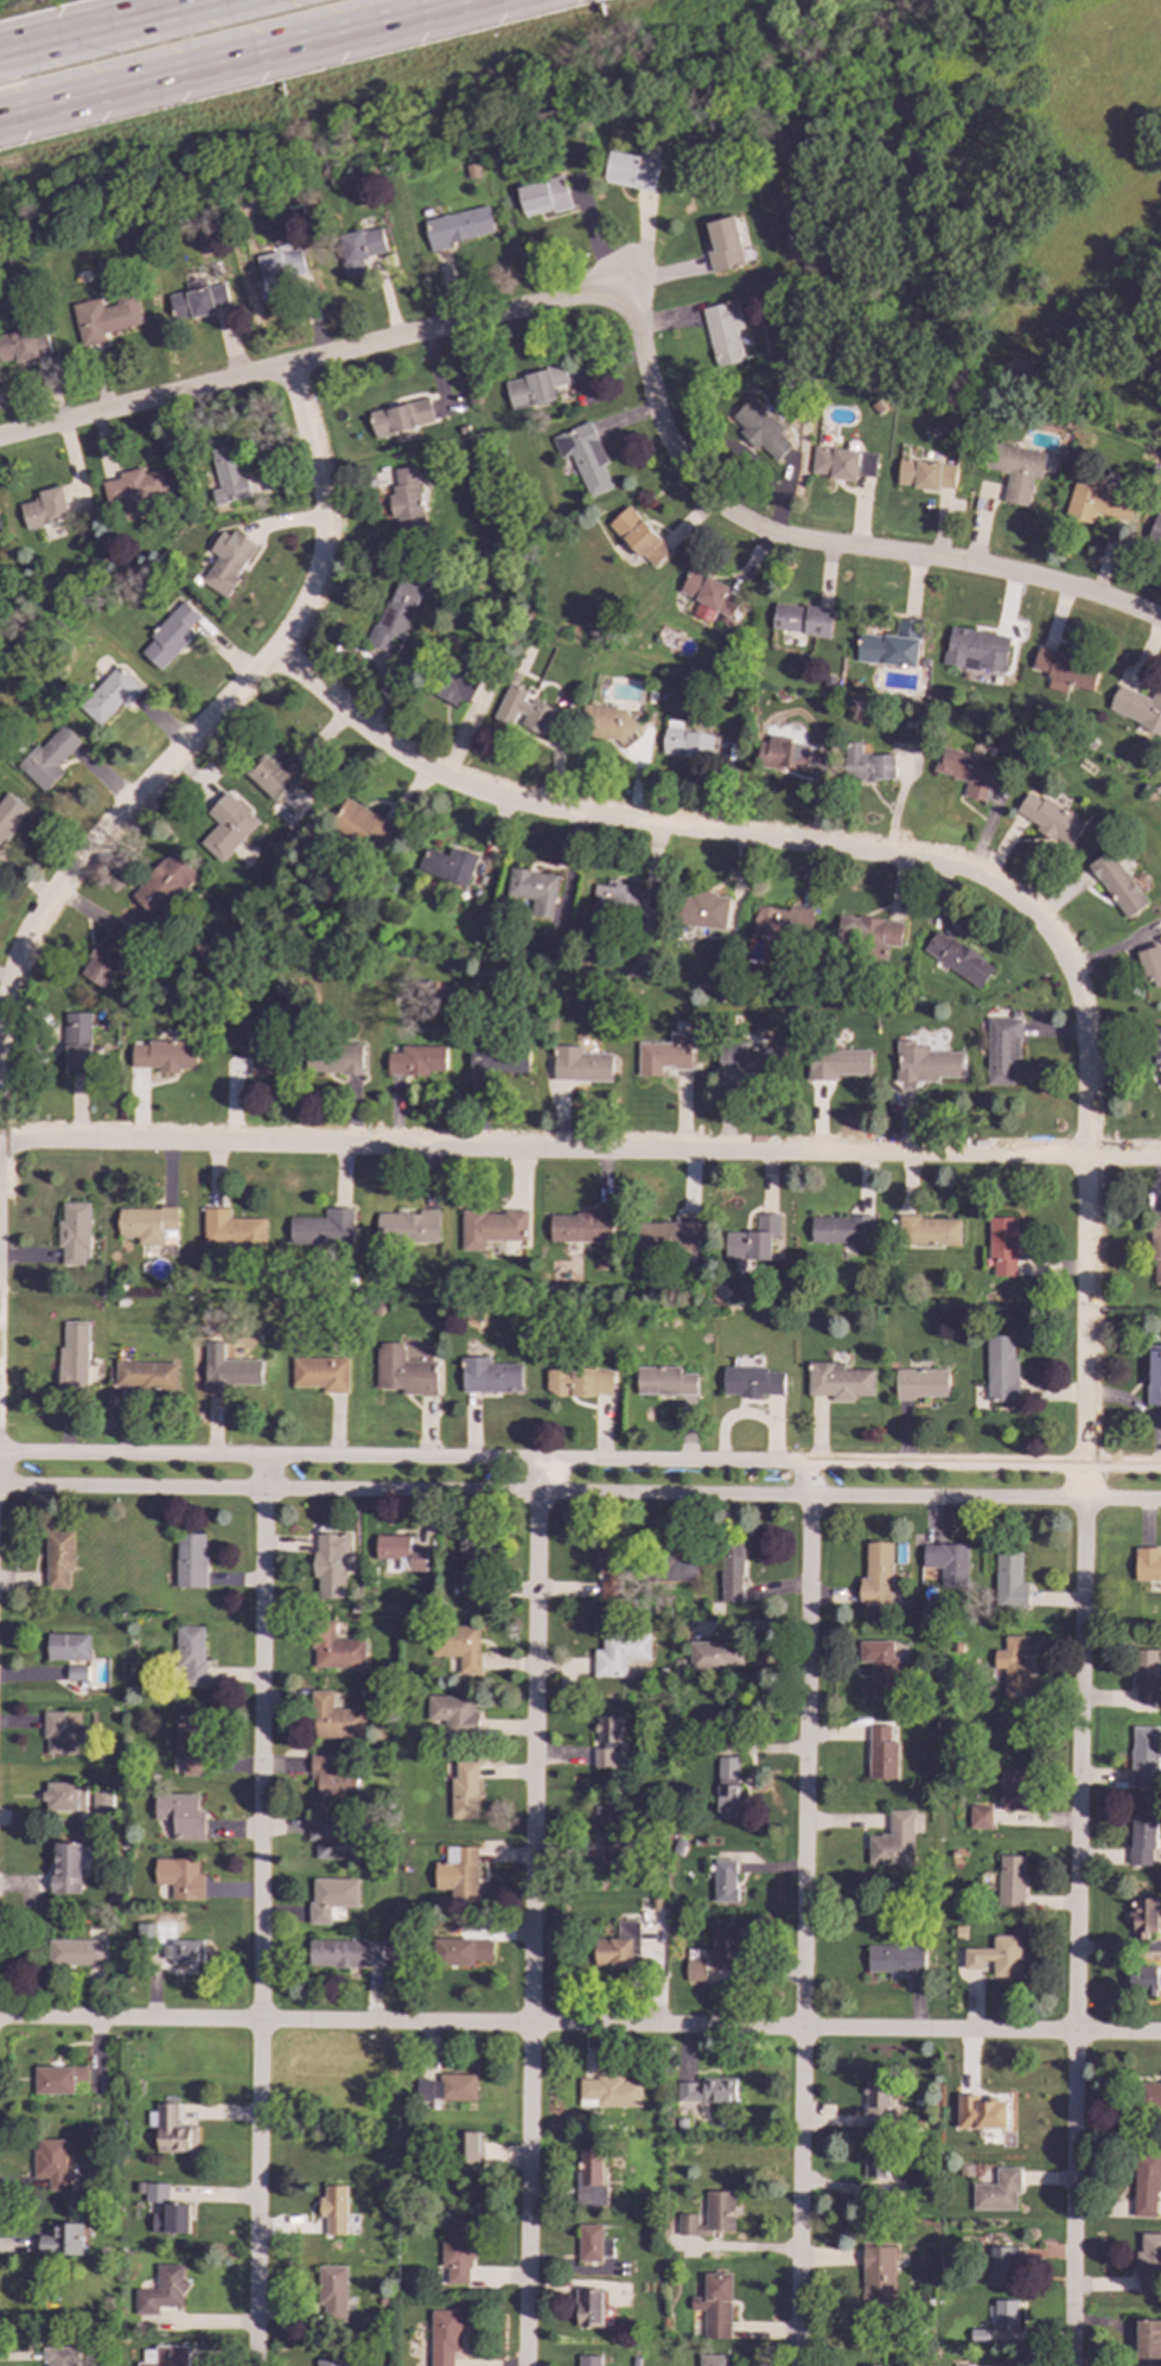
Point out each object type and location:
road: (96, 24)
road: (237, 58)
building: (634, 166)
building: (471, 172)
building: (544, 194)
park: (999, 199)
building: (458, 225)
building: (726, 244)
building: (361, 248)
building: (279, 272)
building: (198, 298)
road: (633, 311)
building: (104, 314)
building: (723, 331)
building: (23, 342)
building: (535, 387)
building: (878, 407)
building: (398, 417)
building: (759, 427)
building: (585, 455)
building: (842, 463)
building: (427, 470)
building: (1018, 470)
building: (926, 474)
building: (228, 476)
building: (138, 489)
building: (407, 500)
building: (1098, 500)
building: (45, 504)
building: (0, 530)
building: (1155, 530)
building: (638, 535)
building: (228, 565)
building: (194, 579)
building: (707, 595)
building: (394, 617)
building: (803, 620)
building: (170, 634)
building: (892, 642)
building: (976, 648)
building: (1066, 667)
building: (512, 675)
building: (451, 680)
building: (110, 694)
building: (1138, 704)
building: (522, 710)
road: (211, 716)
building: (908, 722)
building: (607, 723)
building: (687, 740)
building: (1090, 742)
building: (780, 751)
building: (46, 755)
building: (867, 761)
building: (965, 769)
building: (276, 772)
building: (1157, 786)
building: (8, 812)
building: (1051, 817)
building: (228, 823)
building: (363, 824)
road: (763, 841)
building: (451, 862)
building: (165, 879)
building: (1118, 882)
building: (532, 888)
building: (617, 897)
building: (701, 906)
building: (782, 919)
building: (868, 932)
building: (108, 950)
building: (958, 956)
building: (1152, 961)
building: (1015, 1013)
building: (78, 1040)
building: (255, 1041)
building: (1156, 1047)
building: (1002, 1048)
building: (164, 1053)
building: (665, 1054)
building: (334, 1057)
building: (497, 1058)
building: (415, 1059)
building: (748, 1059)
building: (833, 1061)
building: (925, 1061)
building: (580, 1064)
road: (580, 1149)
building: (147, 1224)
building: (407, 1225)
building: (492, 1226)
building: (581, 1226)
building: (74, 1227)
building: (321, 1227)
building: (232, 1229)
building: (927, 1229)
building: (843, 1230)
building: (671, 1232)
building: (763, 1236)
building: (1003, 1244)
building: (1155, 1245)
building: (72, 1353)
building: (1001, 1369)
building: (404, 1370)
building: (229, 1372)
building: (320, 1372)
building: (1153, 1373)
building: (145, 1375)
building: (490, 1375)
building: (665, 1380)
building: (751, 1380)
building: (837, 1380)
building: (579, 1382)
building: (920, 1383)
road: (580, 1461)
road: (580, 1493)
building: (401, 1551)
building: (58, 1560)
building: (191, 1560)
building: (331, 1563)
building: (671, 1563)
building: (944, 1564)
building: (1147, 1564)
building: (611, 1571)
building: (731, 1571)
building: (470, 1574)
building: (876, 1576)
building: (1009, 1580)
building: (68, 1647)
building: (457, 1647)
building: (336, 1650)
building: (619, 1653)
building: (190, 1656)
building: (715, 1656)
building: (1014, 1666)
building: (881, 1667)
building: (77, 1671)
building: (1144, 1676)
building: (453, 1716)
building: (334, 1718)
building: (66, 1736)
building: (606, 1741)
building: (191, 1743)
building: (881, 1754)
building: (1143, 1755)
road: (1078, 1761)
building: (333, 1778)
building: (727, 1788)
building: (1013, 1790)
building: (465, 1791)
building: (64, 1797)
building: (102, 1803)
building: (180, 1815)
building: (980, 1817)
building: (608, 1831)
building: (333, 1839)
building: (1143, 1839)
building: (893, 1842)
building: (70, 1867)
building: (458, 1874)
building: (180, 1877)
building: (1012, 1881)
building: (726, 1882)
building: (332, 1896)
road: (259, 1912)
road: (531, 1913)
road: (803, 1914)
building: (1146, 1917)
building: (146, 1932)
building: (618, 1949)
building: (723, 1950)
building: (76, 1952)
building: (184, 1952)
building: (455, 1952)
building: (346, 1954)
building: (996, 1957)
building: (895, 1959)
building: (1144, 1978)
road: (580, 2026)
building: (57, 2080)
building: (446, 2087)
building: (706, 2091)
building: (610, 2092)
building: (1152, 2097)
building: (878, 2104)
building: (980, 2115)
building: (173, 2132)
building: (465, 2147)
building: (52, 2163)
building: (875, 2163)
building: (589, 2179)
building: (1146, 2186)
building: (997, 2193)
building: (333, 2206)
building: (167, 2212)
building: (710, 2215)
building: (63, 2240)
building: (593, 2244)
building: (455, 2253)
building: (1003, 2264)
building: (1149, 2265)
building: (878, 2278)
building: (332, 2290)
building: (161, 2291)
building: (715, 2307)
building: (588, 2308)
building: (1004, 2316)
building: (978, 2335)
building: (445, 2336)
building: (1148, 2342)
building: (62, 2357)
building: (170, 2357)
building: (712, 2358)
building: (588, 2360)
building: (331, 2362)

